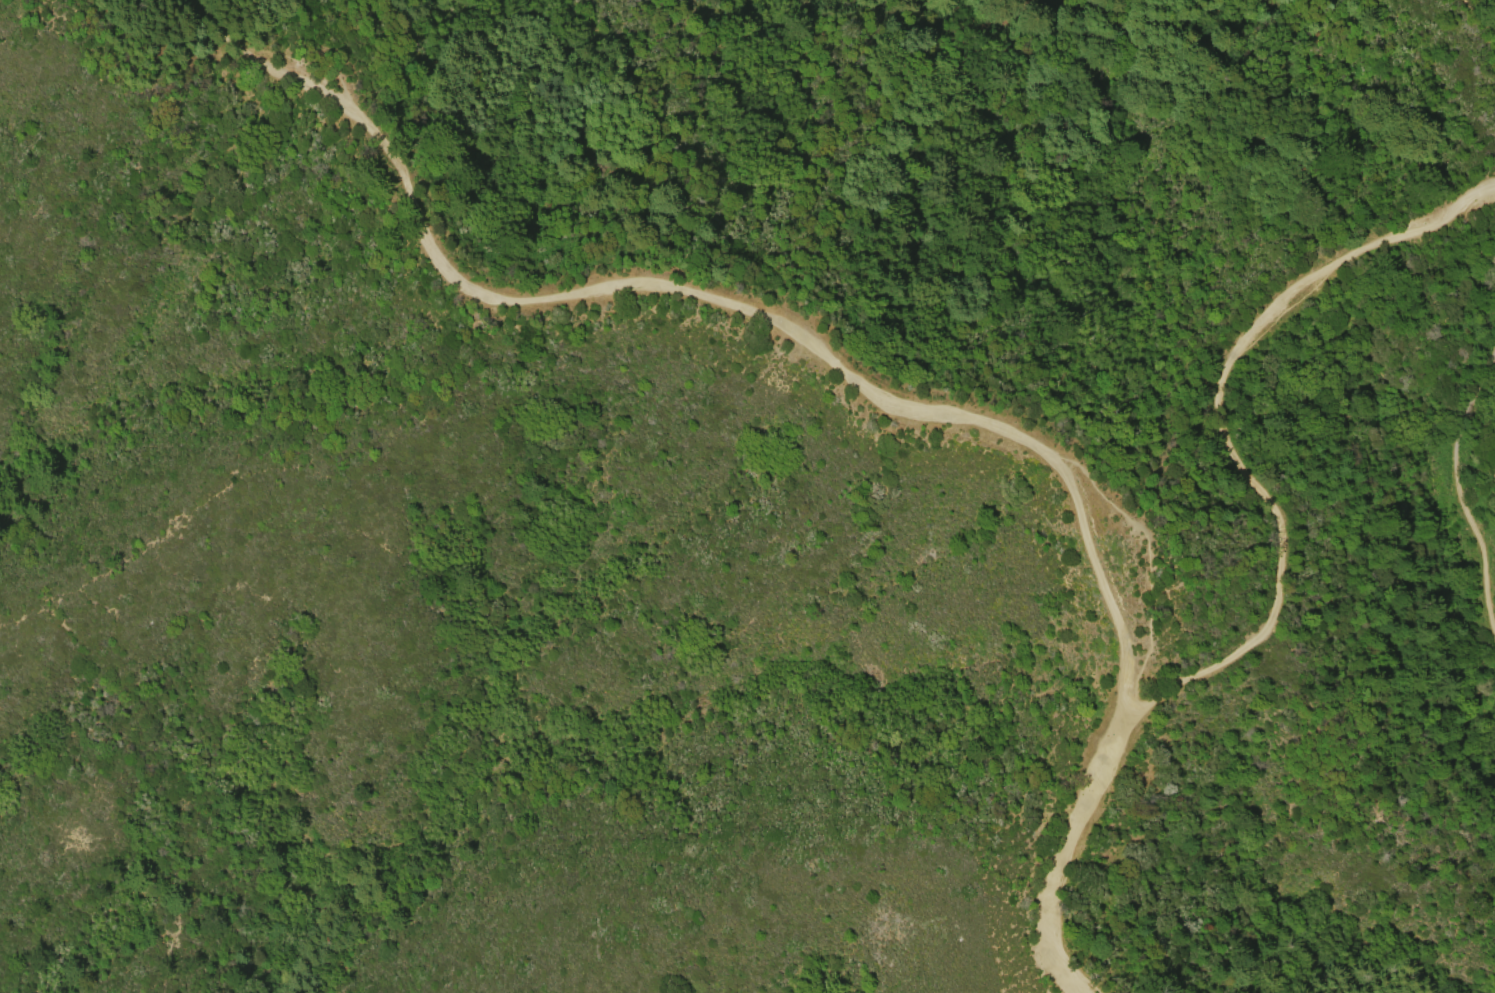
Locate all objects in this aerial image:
road: (978, 11)
road: (703, 292)
road: (1222, 421)
road: (1464, 497)
road: (1064, 847)

